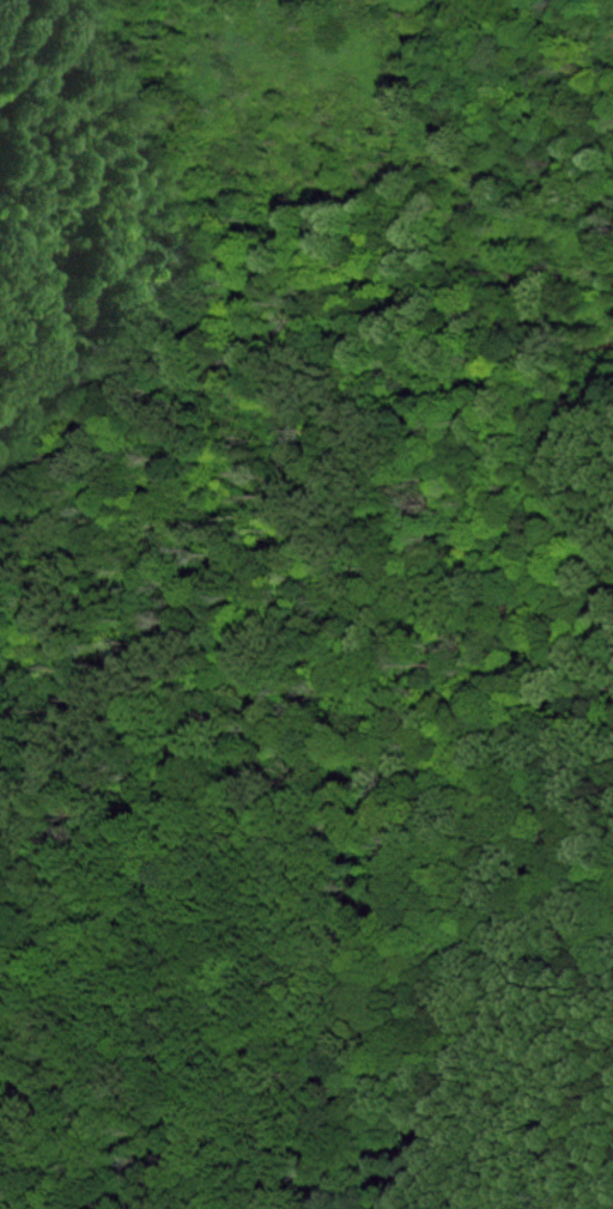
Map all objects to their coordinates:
road: (609, 1132)

